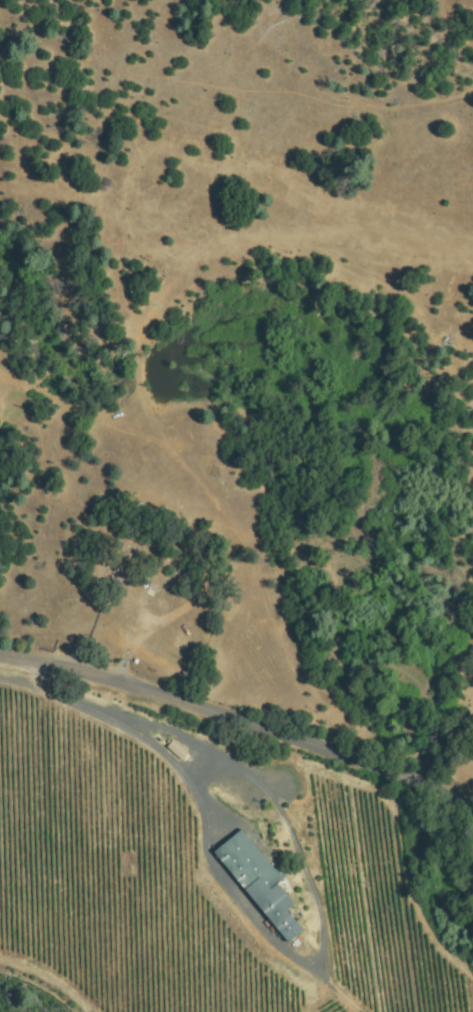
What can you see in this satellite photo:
building: (159, 560)
building: (115, 576)
building: (120, 600)
road: (240, 724)
building: (177, 749)
building: (258, 881)

